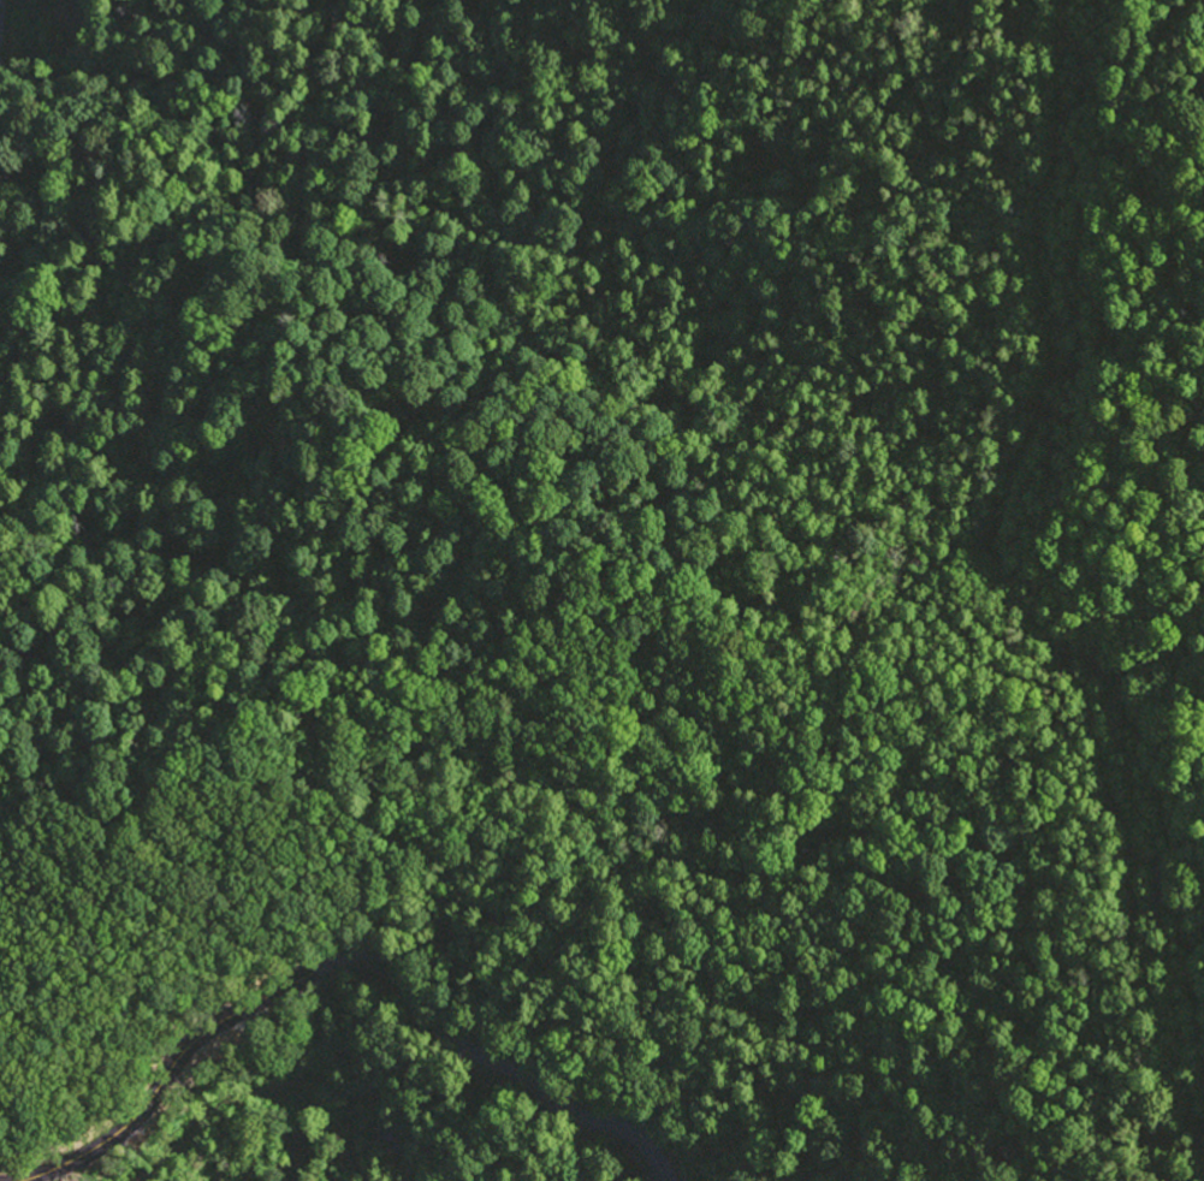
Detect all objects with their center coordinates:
road: (345, 959)

